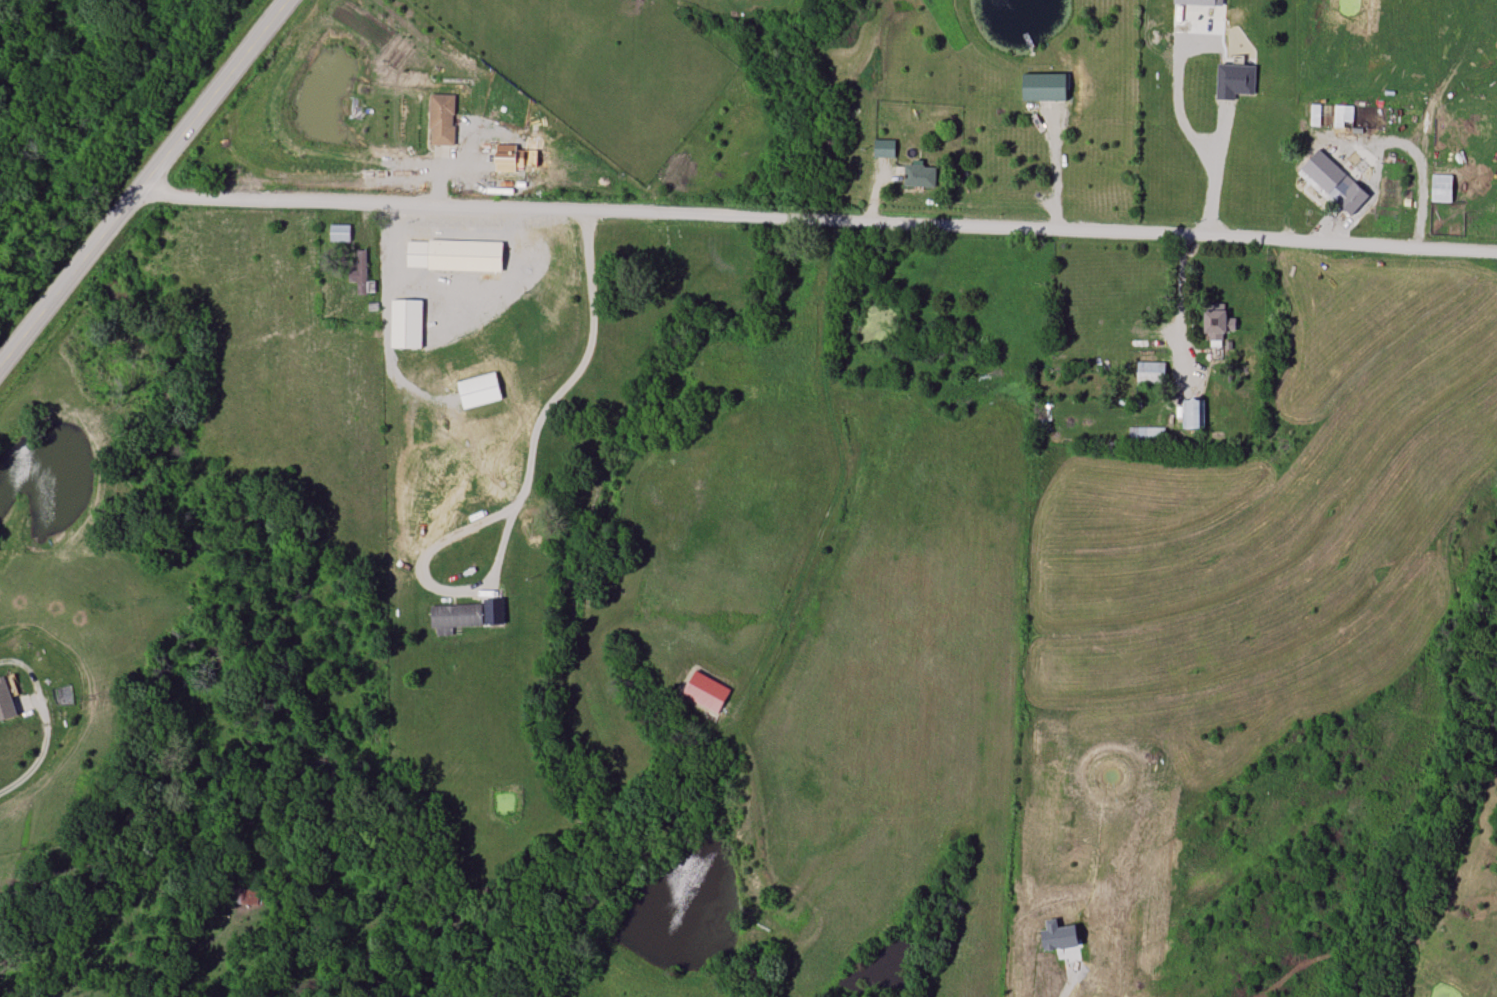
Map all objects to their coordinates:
building: (441, 119)
building: (1338, 143)
building: (883, 148)
road: (1043, 173)
building: (1322, 173)
road: (1206, 174)
building: (919, 176)
road: (142, 181)
road: (817, 218)
building: (339, 233)
building: (454, 255)
building: (358, 270)
road: (515, 274)
road: (1182, 309)
building: (406, 324)
building: (1217, 326)
road: (581, 373)
building: (1150, 373)
building: (478, 390)
building: (1192, 414)
building: (1146, 437)
road: (432, 544)
river: (269, 567)
building: (454, 618)
building: (706, 692)
building: (6, 703)
road: (15, 775)

